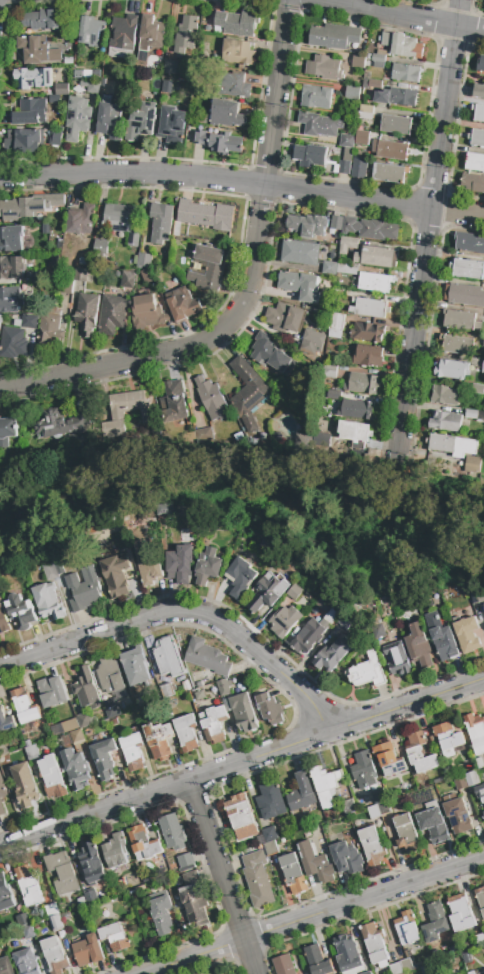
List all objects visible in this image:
road: (407, 15)
building: (42, 20)
building: (237, 23)
building: (91, 30)
building: (152, 33)
building: (186, 35)
building: (334, 36)
building: (123, 37)
building: (385, 39)
building: (406, 46)
building: (37, 50)
building: (239, 52)
building: (382, 53)
building: (378, 58)
building: (68, 60)
building: (143, 61)
building: (358, 61)
building: (379, 64)
building: (480, 64)
building: (170, 67)
building: (324, 68)
building: (96, 73)
building: (406, 73)
building: (78, 74)
building: (34, 78)
building: (83, 83)
building: (180, 83)
building: (374, 84)
building: (94, 86)
building: (234, 86)
building: (166, 87)
building: (61, 89)
building: (479, 91)
building: (353, 92)
building: (316, 97)
building: (397, 97)
building: (54, 99)
building: (366, 109)
building: (30, 112)
building: (478, 113)
building: (226, 114)
building: (365, 116)
building: (77, 118)
building: (201, 118)
building: (141, 121)
building: (110, 122)
building: (319, 124)
building: (397, 124)
building: (173, 125)
building: (56, 136)
building: (362, 137)
building: (476, 138)
building: (24, 140)
building: (333, 140)
building: (347, 141)
building: (218, 142)
building: (392, 150)
building: (348, 154)
building: (310, 156)
building: (474, 162)
building: (344, 167)
building: (359, 167)
building: (389, 173)
road: (242, 183)
building: (473, 183)
building: (29, 206)
building: (205, 216)
building: (81, 220)
building: (124, 222)
road: (428, 222)
building: (161, 223)
building: (344, 224)
building: (307, 225)
building: (46, 228)
building: (378, 231)
building: (11, 238)
building: (26, 239)
building: (469, 242)
building: (348, 244)
building: (101, 247)
building: (300, 252)
building: (375, 256)
building: (144, 260)
building: (12, 267)
building: (207, 267)
building: (329, 268)
building: (467, 269)
building: (84, 275)
building: (147, 276)
building: (34, 277)
building: (128, 279)
building: (375, 282)
road: (249, 283)
building: (301, 286)
building: (65, 287)
building: (464, 295)
building: (10, 299)
building: (183, 304)
building: (369, 308)
building: (145, 312)
building: (87, 313)
building: (113, 313)
building: (285, 318)
building: (349, 320)
building: (29, 321)
building: (461, 321)
building: (51, 326)
building: (337, 326)
building: (367, 332)
building: (314, 337)
building: (13, 343)
building: (457, 345)
building: (271, 355)
building: (368, 356)
building: (483, 367)
building: (452, 370)
building: (331, 371)
building: (363, 384)
building: (477, 389)
building: (248, 392)
building: (335, 395)
building: (445, 396)
building: (212, 400)
building: (175, 401)
building: (358, 409)
building: (475, 415)
building: (118, 417)
building: (447, 422)
building: (61, 424)
building: (7, 431)
building: (354, 431)
building: (261, 435)
building: (198, 436)
building: (254, 441)
building: (304, 443)
building: (453, 445)
building: (374, 456)
building: (473, 464)
building: (265, 543)
building: (148, 561)
building: (210, 563)
building: (181, 564)
building: (59, 565)
building: (50, 569)
building: (116, 575)
building: (241, 578)
building: (84, 590)
building: (268, 591)
building: (295, 592)
building: (477, 598)
building: (48, 601)
building: (324, 602)
building: (483, 604)
building: (21, 610)
road: (183, 611)
building: (331, 616)
building: (4, 620)
building: (284, 621)
building: (375, 621)
building: (346, 622)
building: (378, 631)
building: (466, 633)
building: (309, 636)
building: (442, 637)
building: (419, 645)
building: (333, 654)
building: (168, 657)
building: (207, 657)
building: (398, 659)
building: (135, 666)
building: (367, 671)
building: (110, 675)
building: (200, 684)
building: (186, 686)
building: (224, 687)
building: (86, 689)
building: (51, 691)
building: (167, 691)
building: (199, 694)
building: (103, 695)
road: (405, 705)
building: (25, 706)
building: (111, 708)
building: (269, 709)
building: (244, 712)
building: (84, 721)
building: (6, 722)
building: (113, 722)
building: (213, 724)
building: (64, 727)
building: (475, 732)
building: (186, 733)
building: (77, 736)
building: (448, 736)
building: (159, 740)
building: (3, 751)
building: (132, 751)
building: (31, 752)
building: (420, 754)
building: (104, 758)
building: (389, 759)
building: (479, 763)
building: (75, 769)
building: (364, 770)
building: (52, 778)
building: (471, 778)
building: (460, 782)
building: (326, 784)
building: (24, 785)
road: (163, 788)
building: (2, 789)
building: (302, 793)
building: (480, 793)
building: (378, 796)
building: (271, 800)
building: (348, 807)
building: (384, 807)
building: (1, 809)
building: (374, 812)
building: (483, 813)
building: (240, 815)
building: (458, 816)
building: (433, 822)
building: (172, 832)
building: (269, 834)
building: (407, 834)
building: (260, 840)
building: (144, 843)
building: (372, 846)
building: (270, 848)
building: (116, 851)
building: (347, 858)
building: (185, 860)
building: (91, 863)
building: (316, 864)
building: (62, 872)
building: (293, 874)
road: (222, 876)
building: (257, 879)
building: (27, 885)
building: (133, 892)
building: (5, 895)
building: (90, 897)
building: (480, 899)
building: (194, 900)
building: (81, 902)
building: (51, 910)
building: (461, 913)
building: (162, 915)
road: (312, 915)
building: (22, 920)
building: (46, 923)
building: (55, 923)
building: (435, 923)
building: (407, 929)
building: (27, 931)
building: (62, 934)
building: (114, 937)
building: (479, 940)
building: (374, 943)
building: (88, 951)
building: (54, 955)
building: (348, 955)
building: (467, 958)
building: (317, 961)
building: (26, 962)
building: (283, 964)
building: (406, 965)
building: (6, 966)
building: (395, 968)
building: (428, 968)
building: (483, 972)
building: (367, 973)
building: (402, 973)

